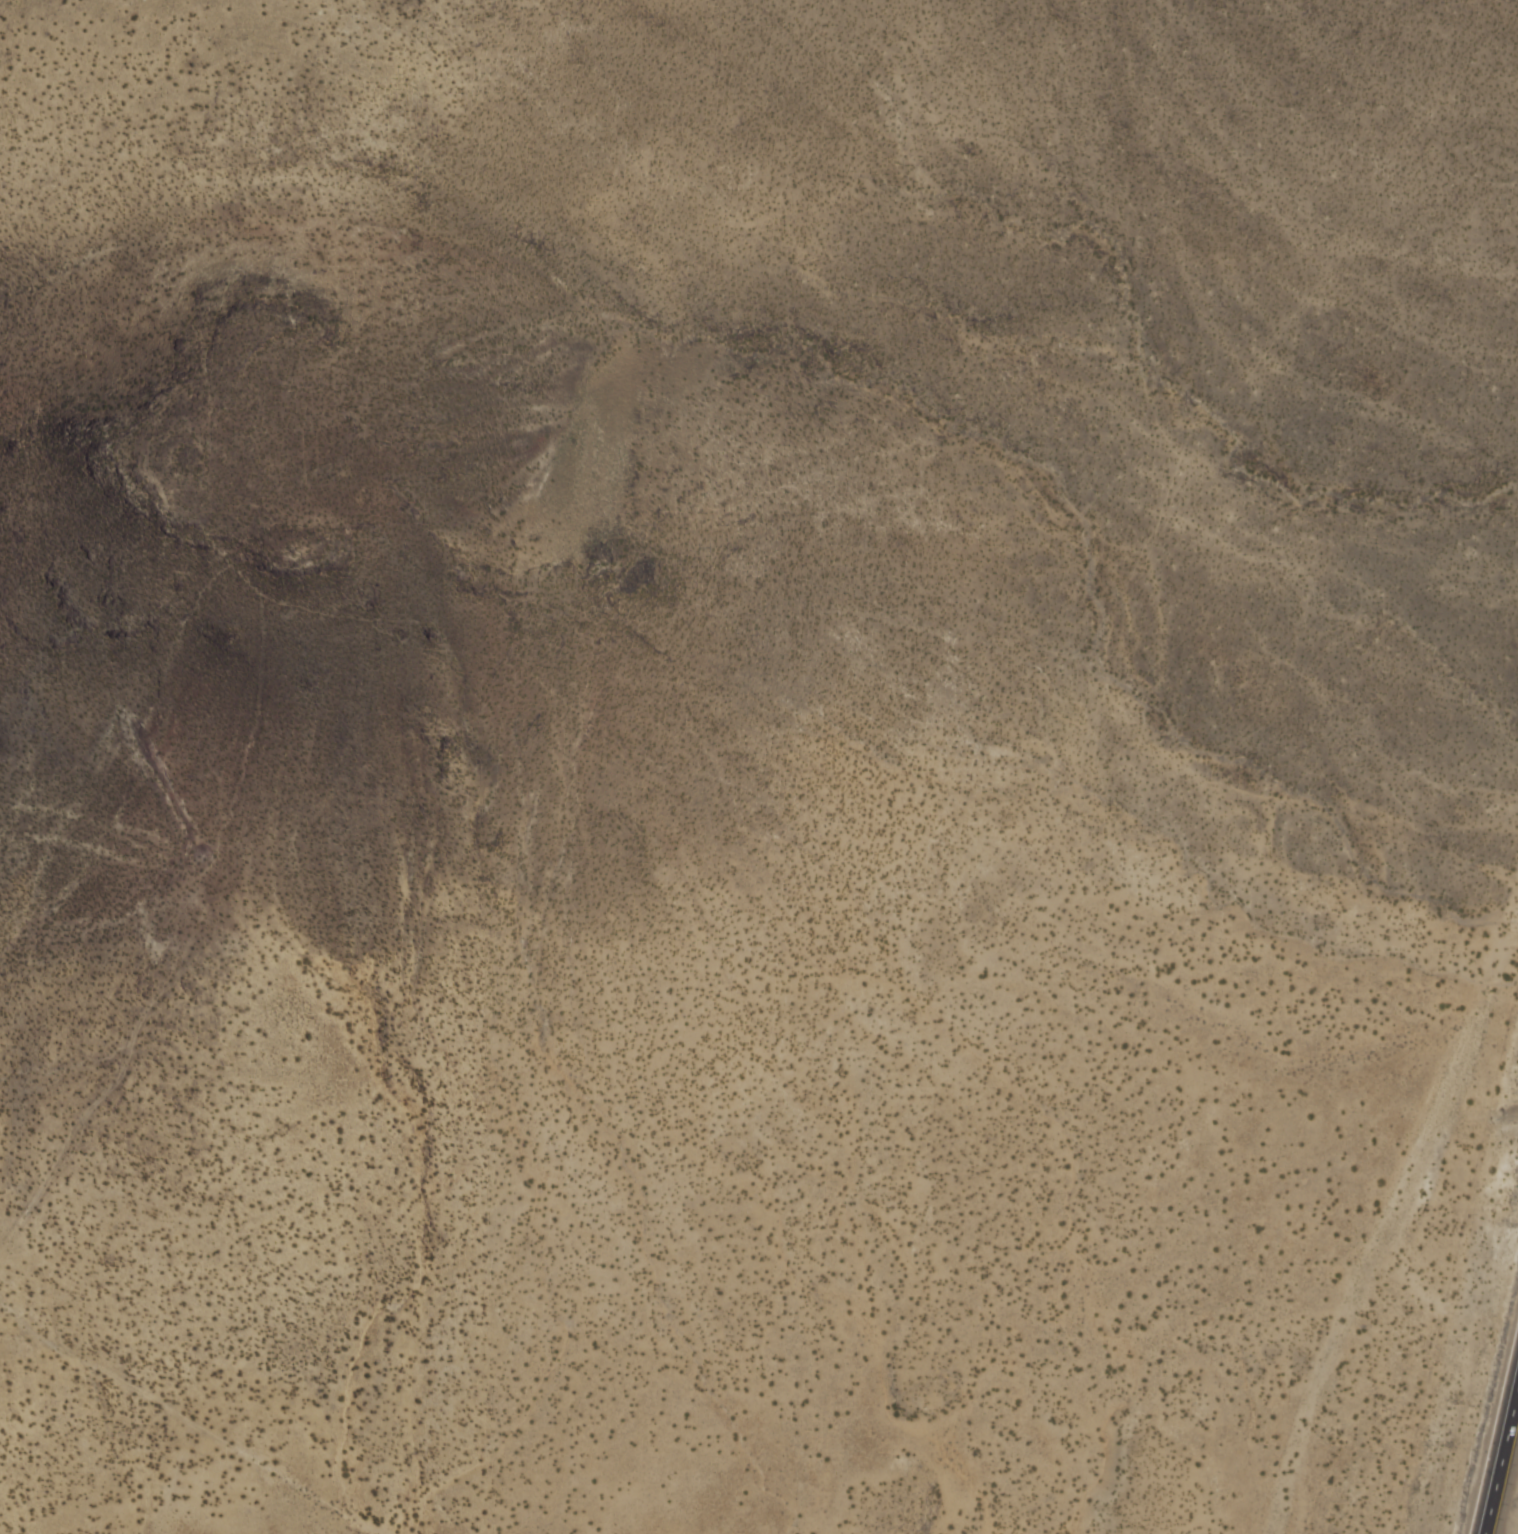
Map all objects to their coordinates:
road: (1501, 1463)

